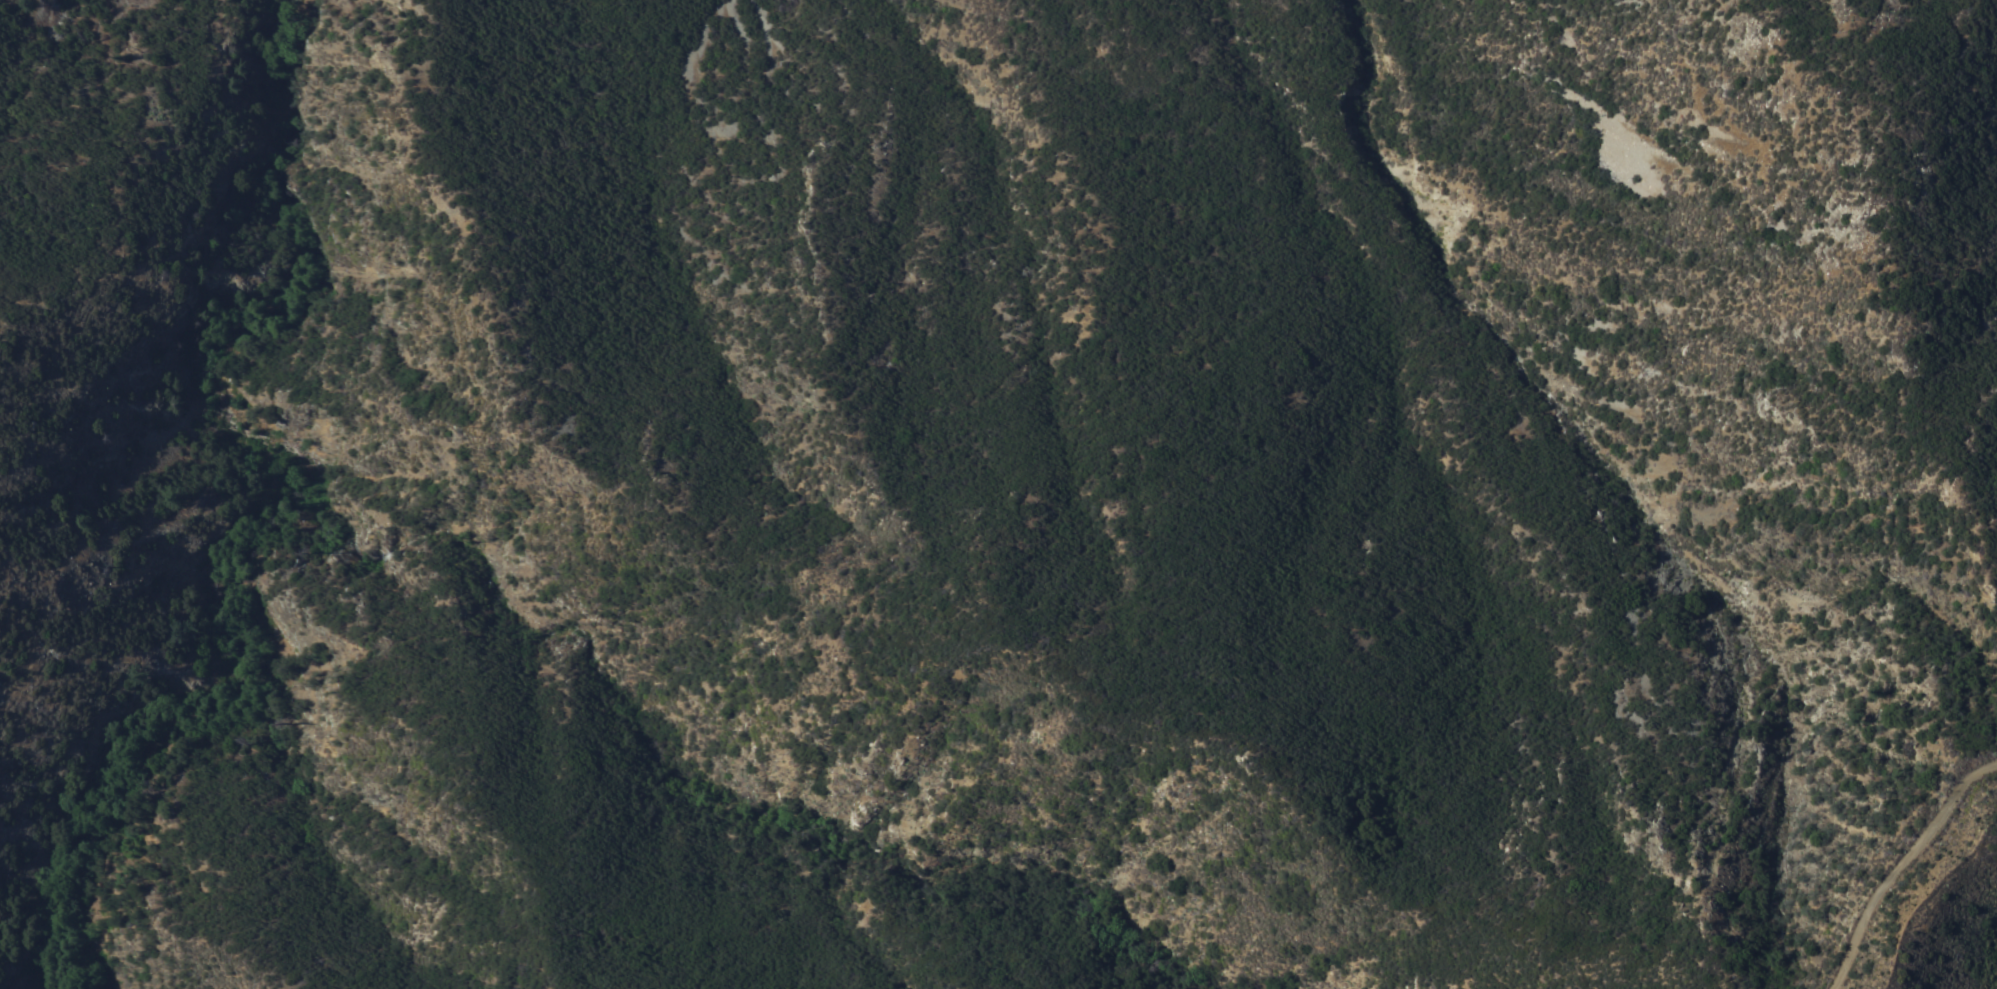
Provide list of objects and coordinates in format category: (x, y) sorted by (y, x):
road: (1899, 865)

